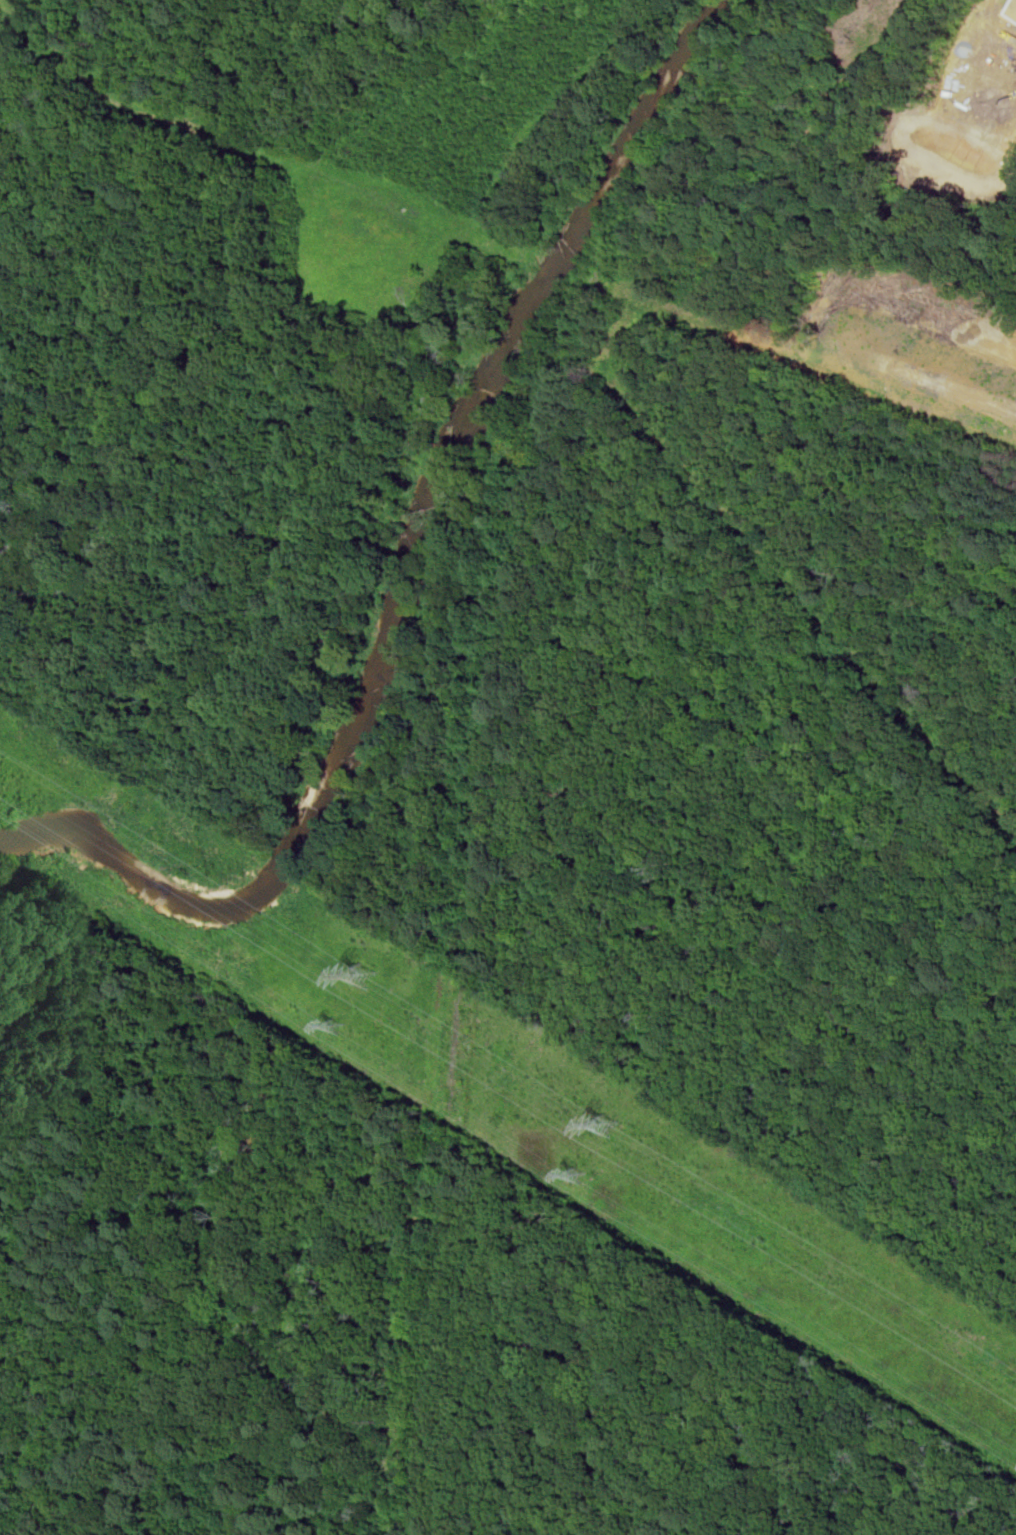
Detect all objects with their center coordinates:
river: (410, 571)
power tower: (365, 976)
power tower: (345, 1029)
power tower: (609, 1127)
power tower: (582, 1177)

